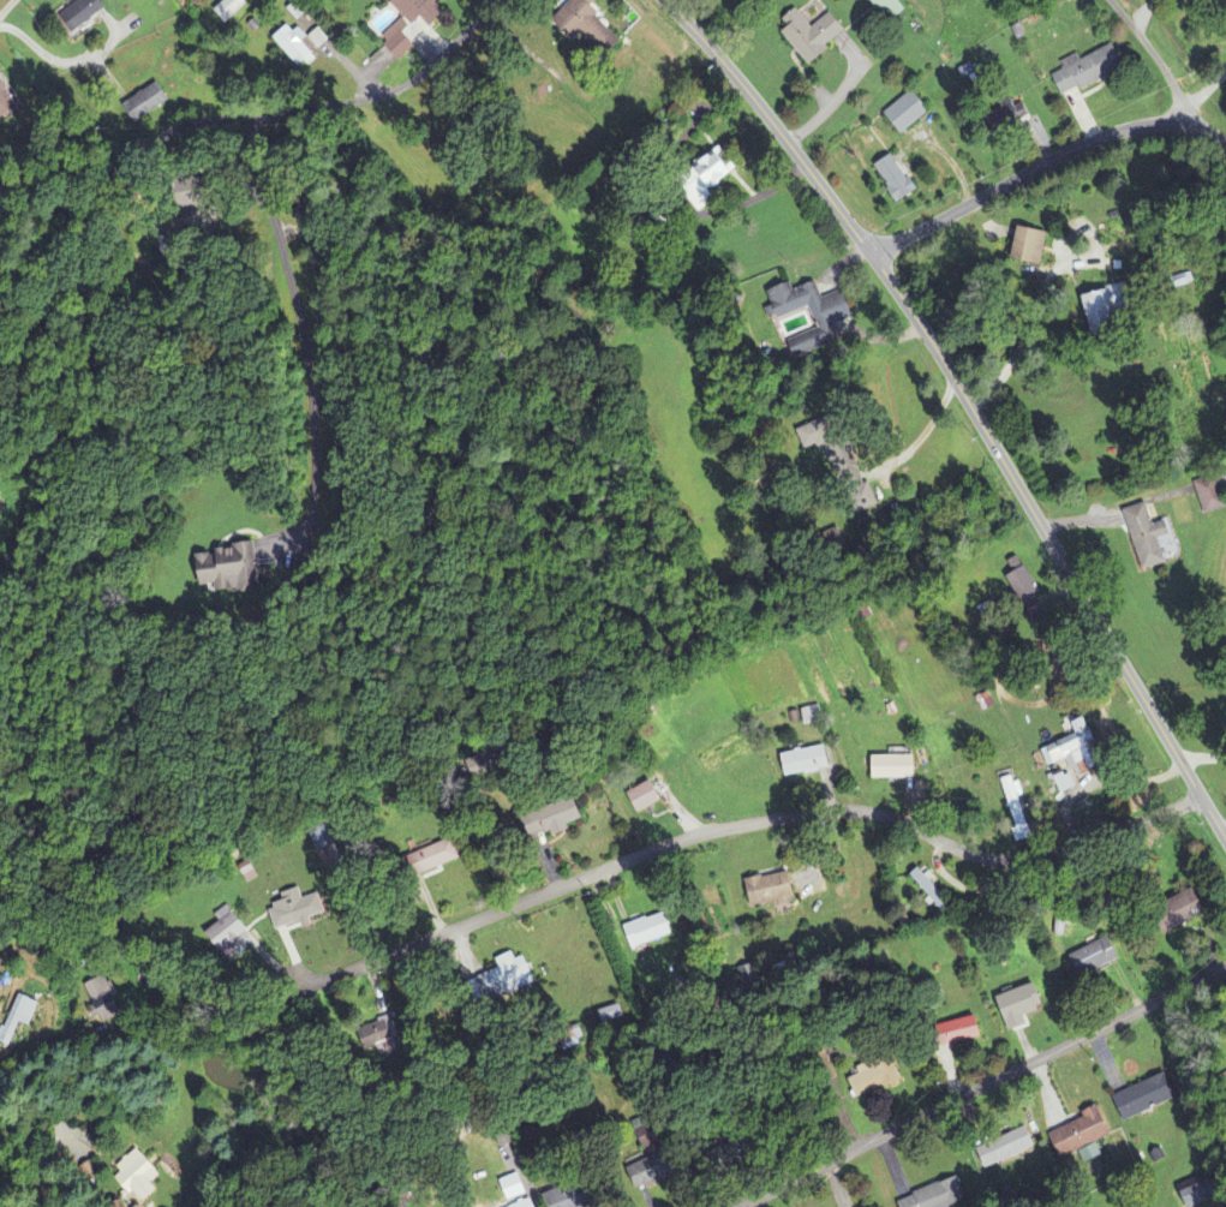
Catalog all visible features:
road: (6, 7)
building: (231, 8)
building: (891, 8)
building: (419, 10)
building: (84, 14)
building: (591, 24)
building: (813, 35)
building: (318, 38)
building: (294, 46)
road: (38, 49)
road: (323, 49)
road: (1156, 58)
building: (1082, 72)
building: (5, 98)
building: (146, 102)
building: (909, 112)
road: (773, 123)
road: (1045, 161)
building: (719, 168)
building: (897, 179)
building: (1031, 246)
building: (835, 319)
building: (832, 448)
building: (1212, 495)
building: (1149, 537)
road: (1052, 544)
building: (226, 567)
building: (812, 716)
building: (1076, 748)
building: (807, 761)
building: (896, 769)
building: (1067, 784)
building: (646, 797)
building: (1017, 809)
building: (552, 820)
road: (735, 823)
road: (1222, 827)
building: (433, 858)
building: (775, 891)
building: (931, 891)
building: (298, 909)
building: (651, 931)
building: (228, 932)
building: (1096, 957)
building: (509, 978)
building: (103, 1000)
building: (1022, 1006)
building: (19, 1017)
building: (968, 1030)
road: (53, 1045)
building: (878, 1077)
road: (982, 1086)
building: (1146, 1098)
building: (1082, 1134)
building: (139, 1177)
building: (516, 1191)
building: (568, 1197)

